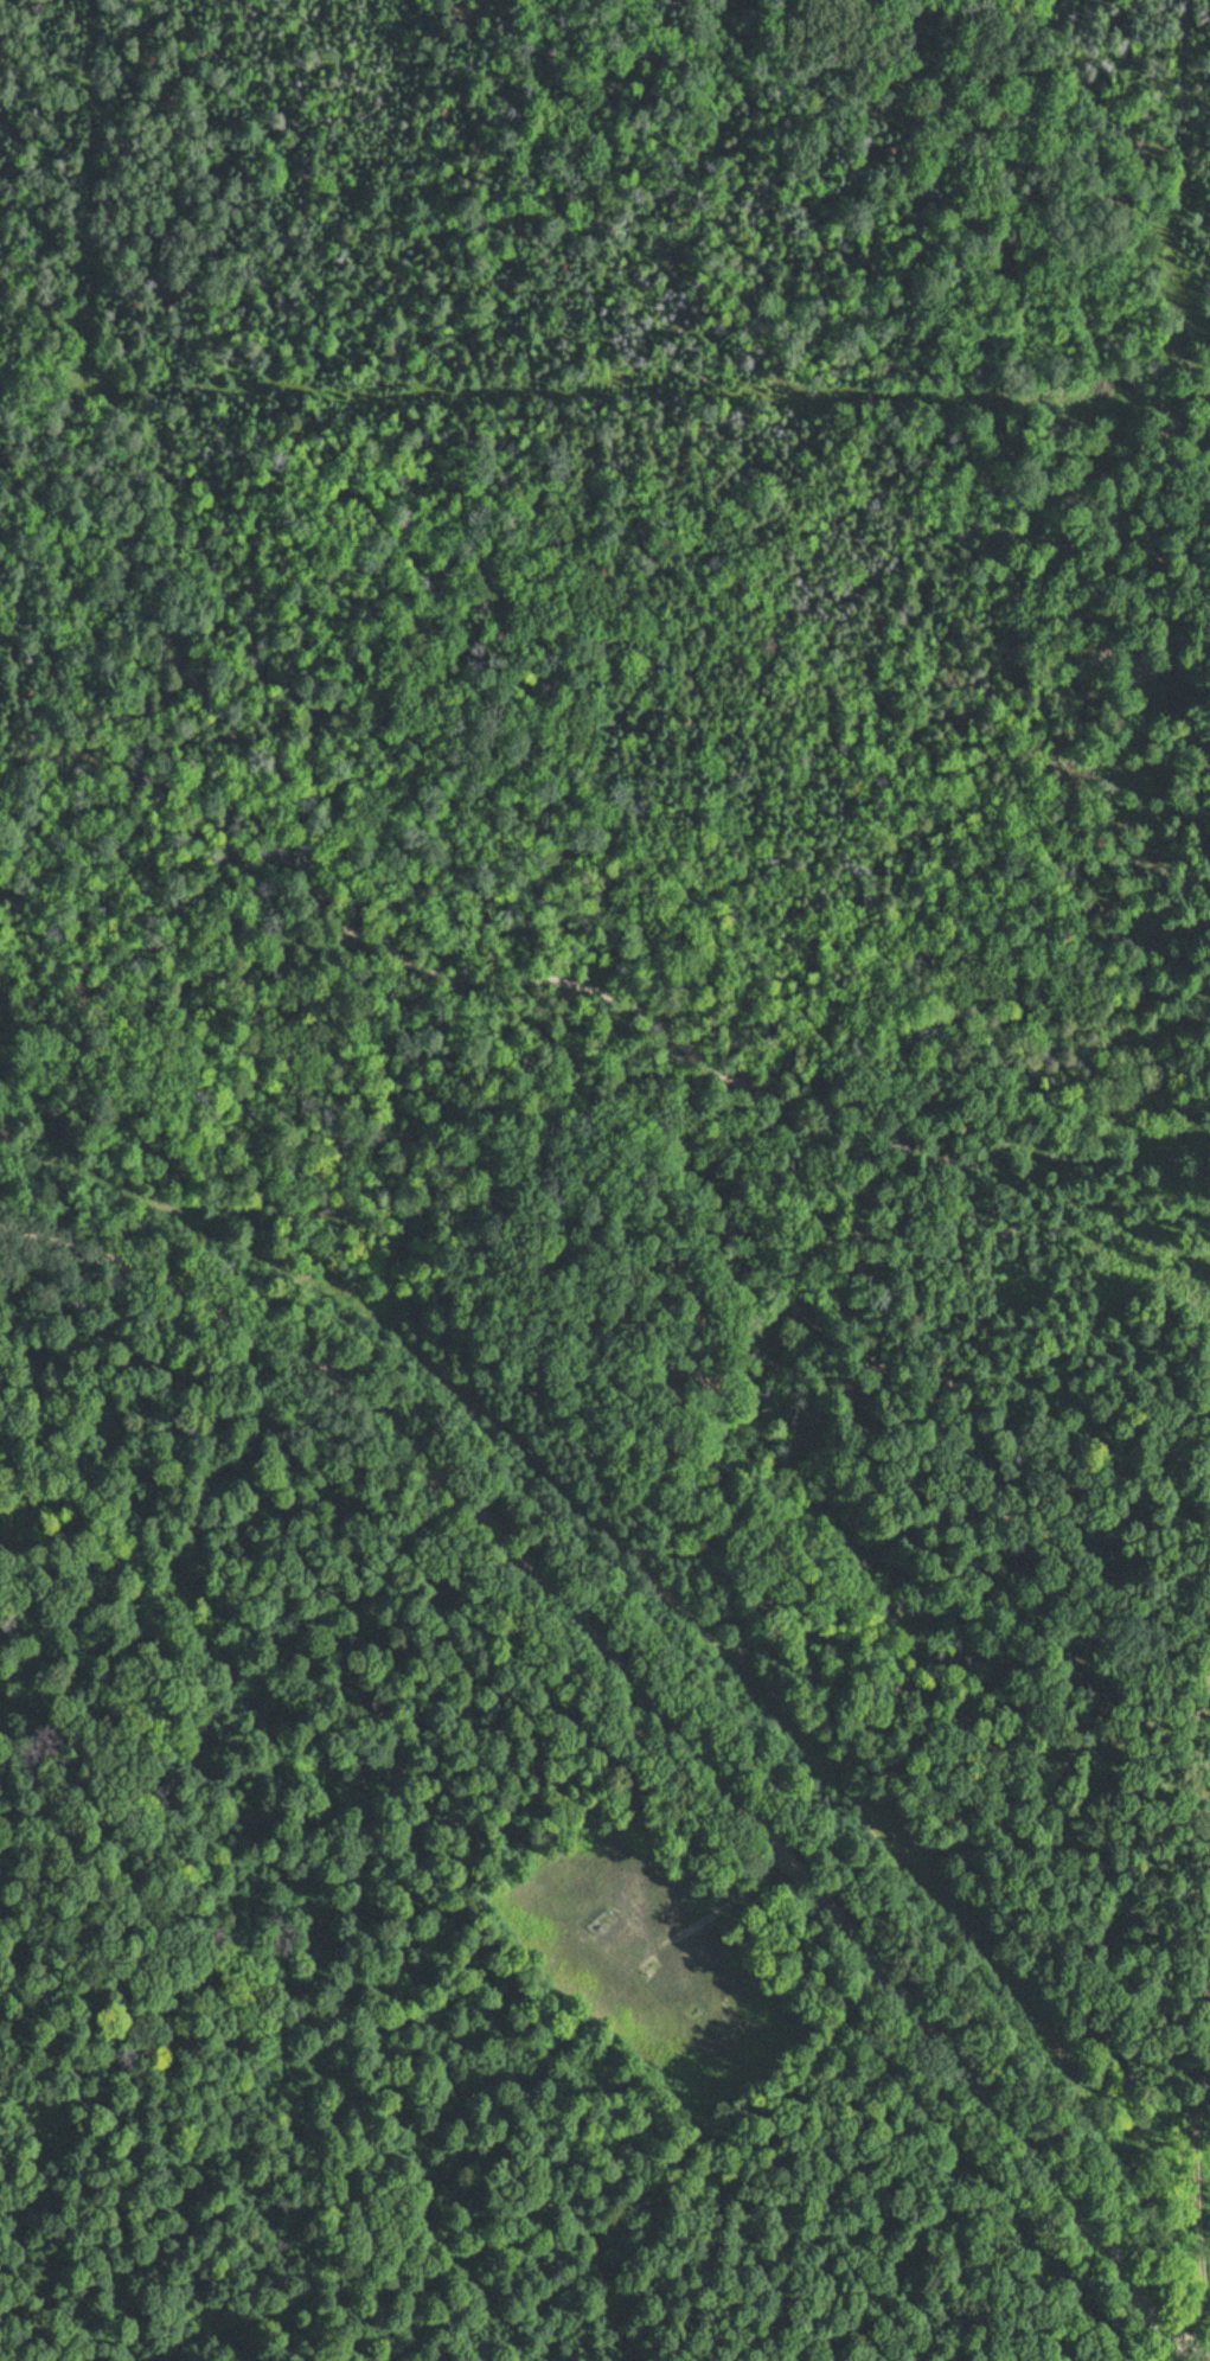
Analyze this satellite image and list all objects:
road: (665, 1716)

